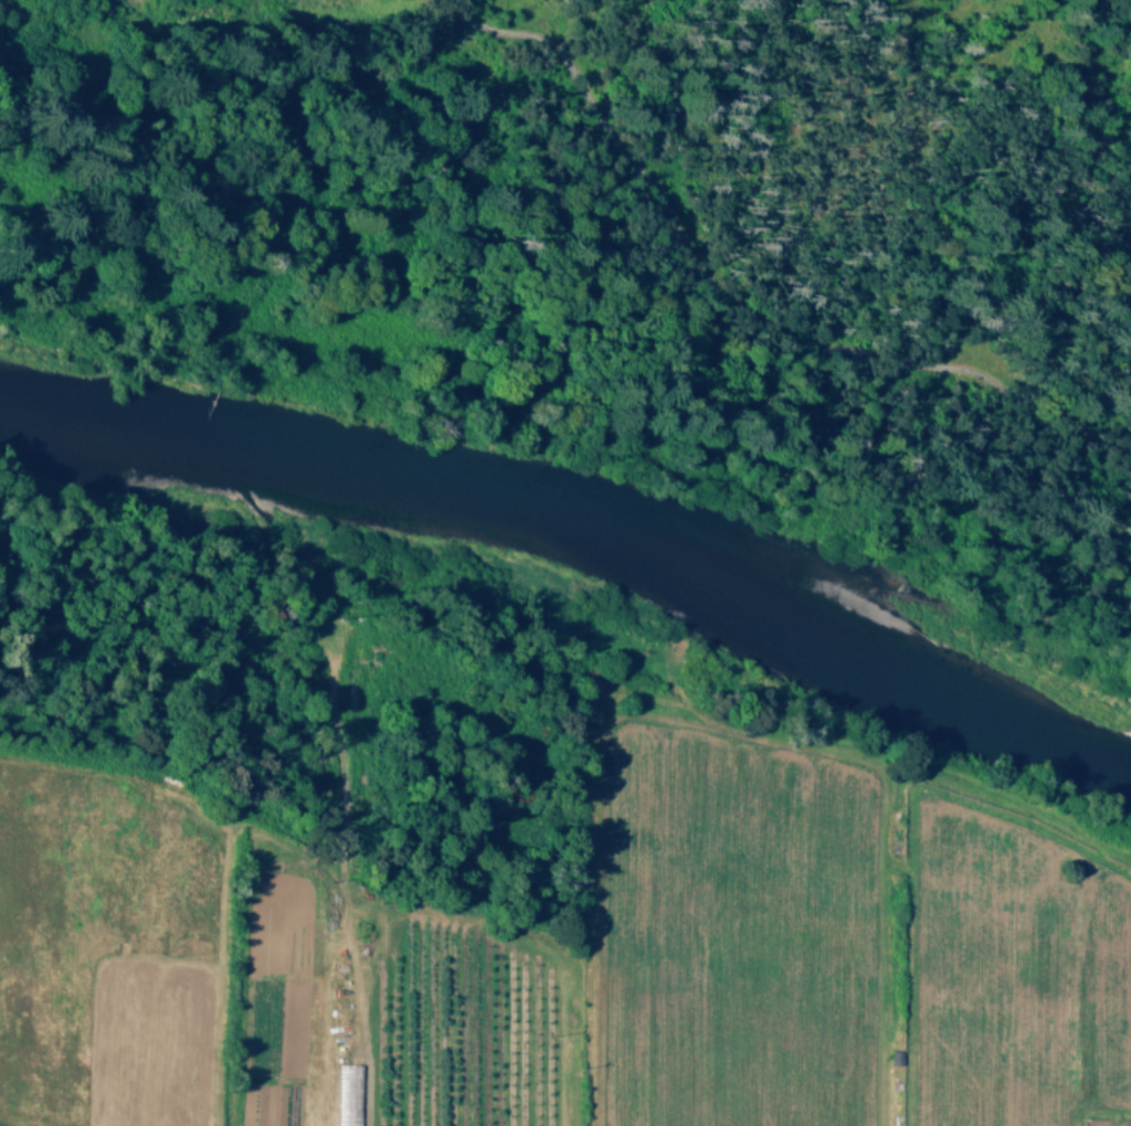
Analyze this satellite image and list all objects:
road: (732, 291)
river: (589, 527)

